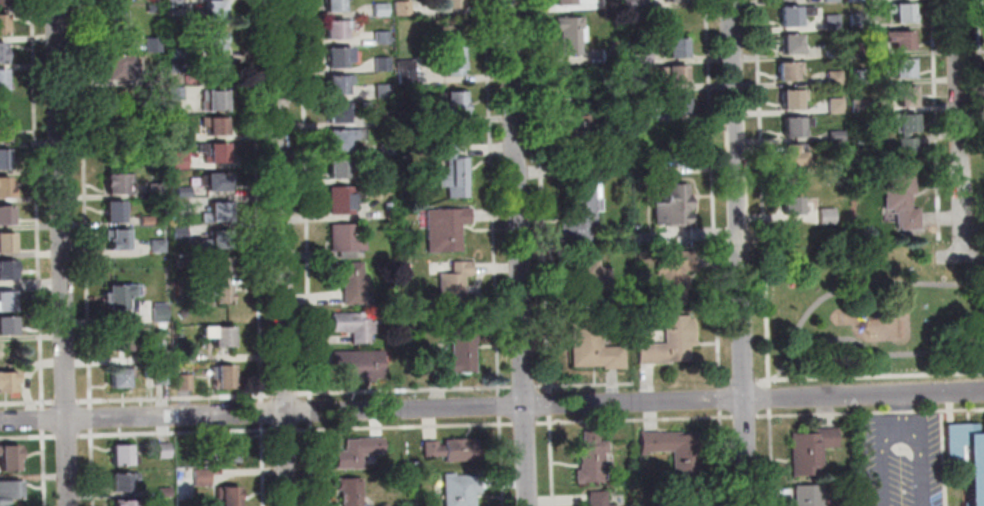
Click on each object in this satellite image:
building: (676, 0)
building: (787, 0)
building: (832, 1)
building: (855, 1)
building: (115, 2)
building: (565, 3)
building: (3, 4)
building: (177, 4)
building: (452, 4)
building: (610, 4)
building: (629, 5)
building: (337, 6)
building: (155, 9)
building: (404, 9)
building: (216, 11)
building: (383, 11)
building: (901, 13)
building: (795, 17)
building: (116, 22)
building: (857, 22)
building: (832, 23)
building: (4, 26)
building: (340, 31)
building: (572, 35)
building: (383, 39)
building: (899, 41)
building: (216, 43)
building: (616, 45)
building: (155, 46)
building: (792, 46)
building: (675, 48)
building: (857, 50)
building: (834, 51)
building: (177, 53)
building: (3, 54)
building: (610, 57)
road: (981, 57)
building: (342, 59)
building: (643, 59)
building: (450, 63)
building: (384, 65)
building: (178, 67)
building: (122, 69)
building: (901, 69)
building: (407, 73)
building: (790, 73)
building: (216, 75)
building: (675, 77)
building: (859, 77)
building: (155, 78)
building: (835, 79)
building: (5, 81)
building: (341, 86)
building: (649, 86)
building: (385, 92)
building: (178, 94)
building: (567, 94)
building: (629, 98)
building: (907, 98)
building: (793, 101)
building: (216, 102)
building: (111, 103)
building: (674, 103)
building: (457, 105)
building: (836, 107)
building: (858, 107)
building: (640, 113)
building: (341, 114)
building: (386, 119)
building: (421, 119)
road: (934, 120)
building: (217, 127)
building: (796, 128)
road: (960, 128)
building: (5, 134)
building: (180, 135)
building: (577, 135)
building: (904, 137)
building: (836, 138)
building: (342, 141)
building: (388, 150)
building: (216, 154)
building: (795, 157)
building: (680, 158)
building: (5, 160)
building: (182, 162)
building: (342, 170)
building: (658, 170)
building: (455, 172)
building: (388, 174)
building: (219, 183)
building: (120, 184)
building: (7, 189)
building: (158, 191)
road: (492, 193)
road: (713, 193)
road: (762, 193)
building: (185, 194)
road: (541, 196)
building: (345, 199)
road: (307, 200)
building: (901, 201)
road: (39, 204)
building: (583, 204)
building: (673, 205)
building: (181, 206)
building: (390, 206)
building: (793, 209)
building: (117, 213)
building: (220, 215)
building: (7, 217)
building: (827, 218)
building: (150, 221)
building: (447, 230)
building: (181, 234)
building: (347, 239)
building: (120, 240)
building: (219, 241)
building: (8, 244)
building: (159, 247)
road: (63, 253)
road: (283, 253)
road: (519, 253)
road: (740, 253)
road: (960, 256)
building: (183, 262)
building: (222, 268)
building: (7, 272)
building: (675, 276)
building: (352, 282)
building: (588, 282)
road: (908, 282)
building: (456, 286)
building: (185, 289)
building: (221, 296)
building: (122, 297)
building: (8, 302)
building: (161, 313)
road: (806, 313)
park: (861, 320)
building: (355, 327)
building: (8, 328)
building: (222, 337)
building: (124, 342)
building: (671, 344)
building: (593, 347)
road: (870, 352)
building: (186, 355)
building: (458, 355)
building: (162, 358)
building: (359, 367)
road: (869, 376)
building: (123, 378)
building: (163, 378)
building: (225, 378)
road: (727, 381)
road: (745, 381)
building: (8, 383)
building: (186, 383)
street lamp: (940, 383)
road: (583, 384)
street lamp: (859, 386)
road: (524, 387)
road: (405, 390)
road: (499, 391)
road: (614, 391)
road: (266, 395)
road: (286, 395)
road: (770, 398)
road: (173, 399)
road: (720, 399)
road: (68, 402)
road: (88, 402)
road: (28, 404)
road: (548, 404)
road: (500, 405)
road: (491, 406)
road: (311, 412)
road: (870, 412)
road: (263, 413)
road: (901, 413)
road: (745, 417)
road: (91, 418)
road: (43, 420)
road: (634, 420)
road: (524, 424)
road: (375, 427)
road: (287, 430)
road: (309, 430)
road: (902, 432)
road: (177, 433)
road: (68, 436)
road: (28, 437)
street lamp: (902, 450)
building: (454, 451)
building: (165, 452)
building: (675, 452)
building: (811, 452)
building: (222, 454)
building: (359, 454)
building: (124, 457)
road: (772, 457)
road: (722, 458)
building: (968, 458)
building: (10, 459)
road: (502, 460)
road: (551, 460)
building: (591, 460)
parking lot: (903, 461)
road: (264, 465)
road: (92, 467)
road: (43, 468)
building: (204, 479)
building: (126, 483)
street lamp: (903, 486)
building: (462, 490)
building: (10, 492)
building: (165, 492)
building: (352, 492)
building: (688, 496)
building: (810, 496)
building: (231, 498)
building: (596, 499)
building: (127, 503)
building: (385, 505)

